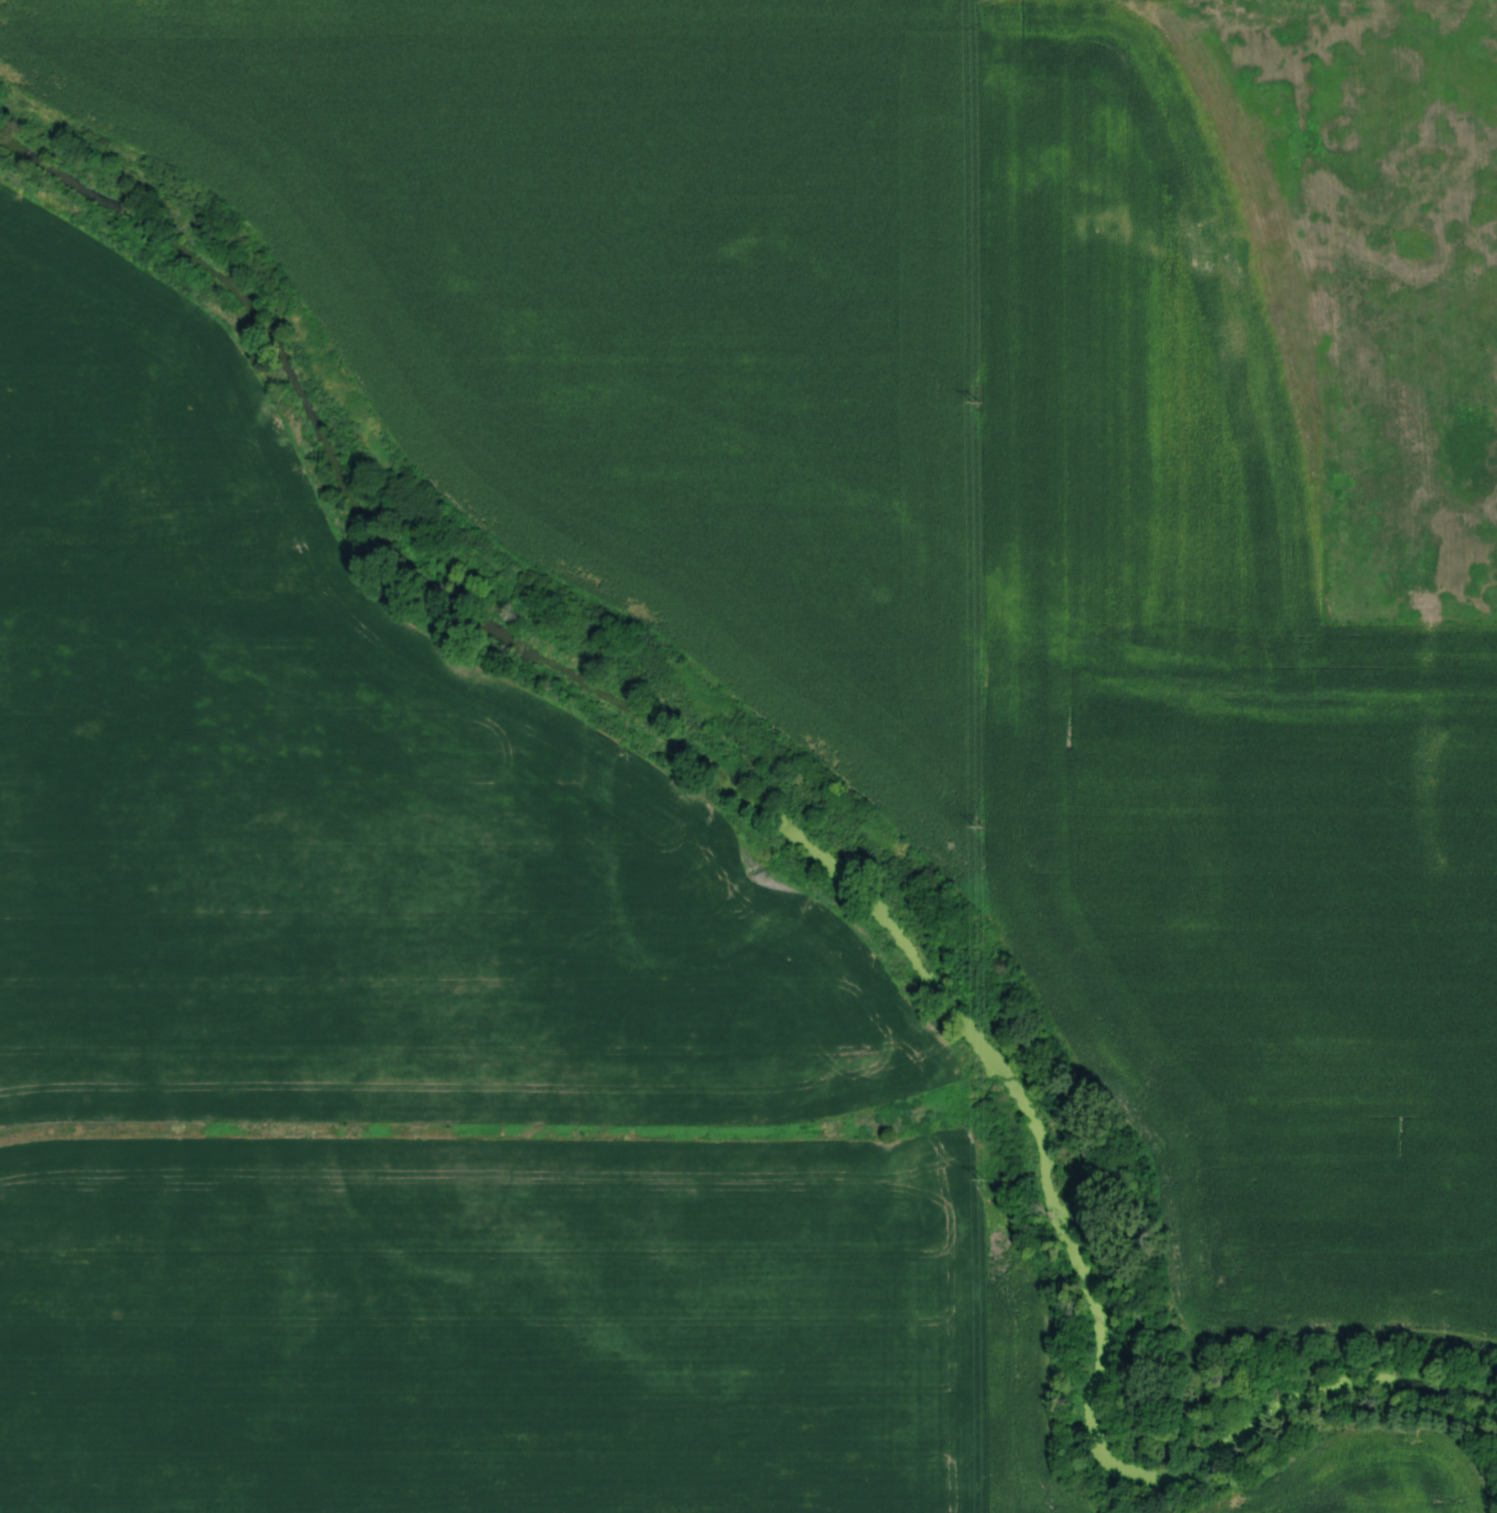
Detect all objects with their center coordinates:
power tower: (976, 399)
power tower: (977, 828)
river: (825, 866)
power tower: (981, 1184)

